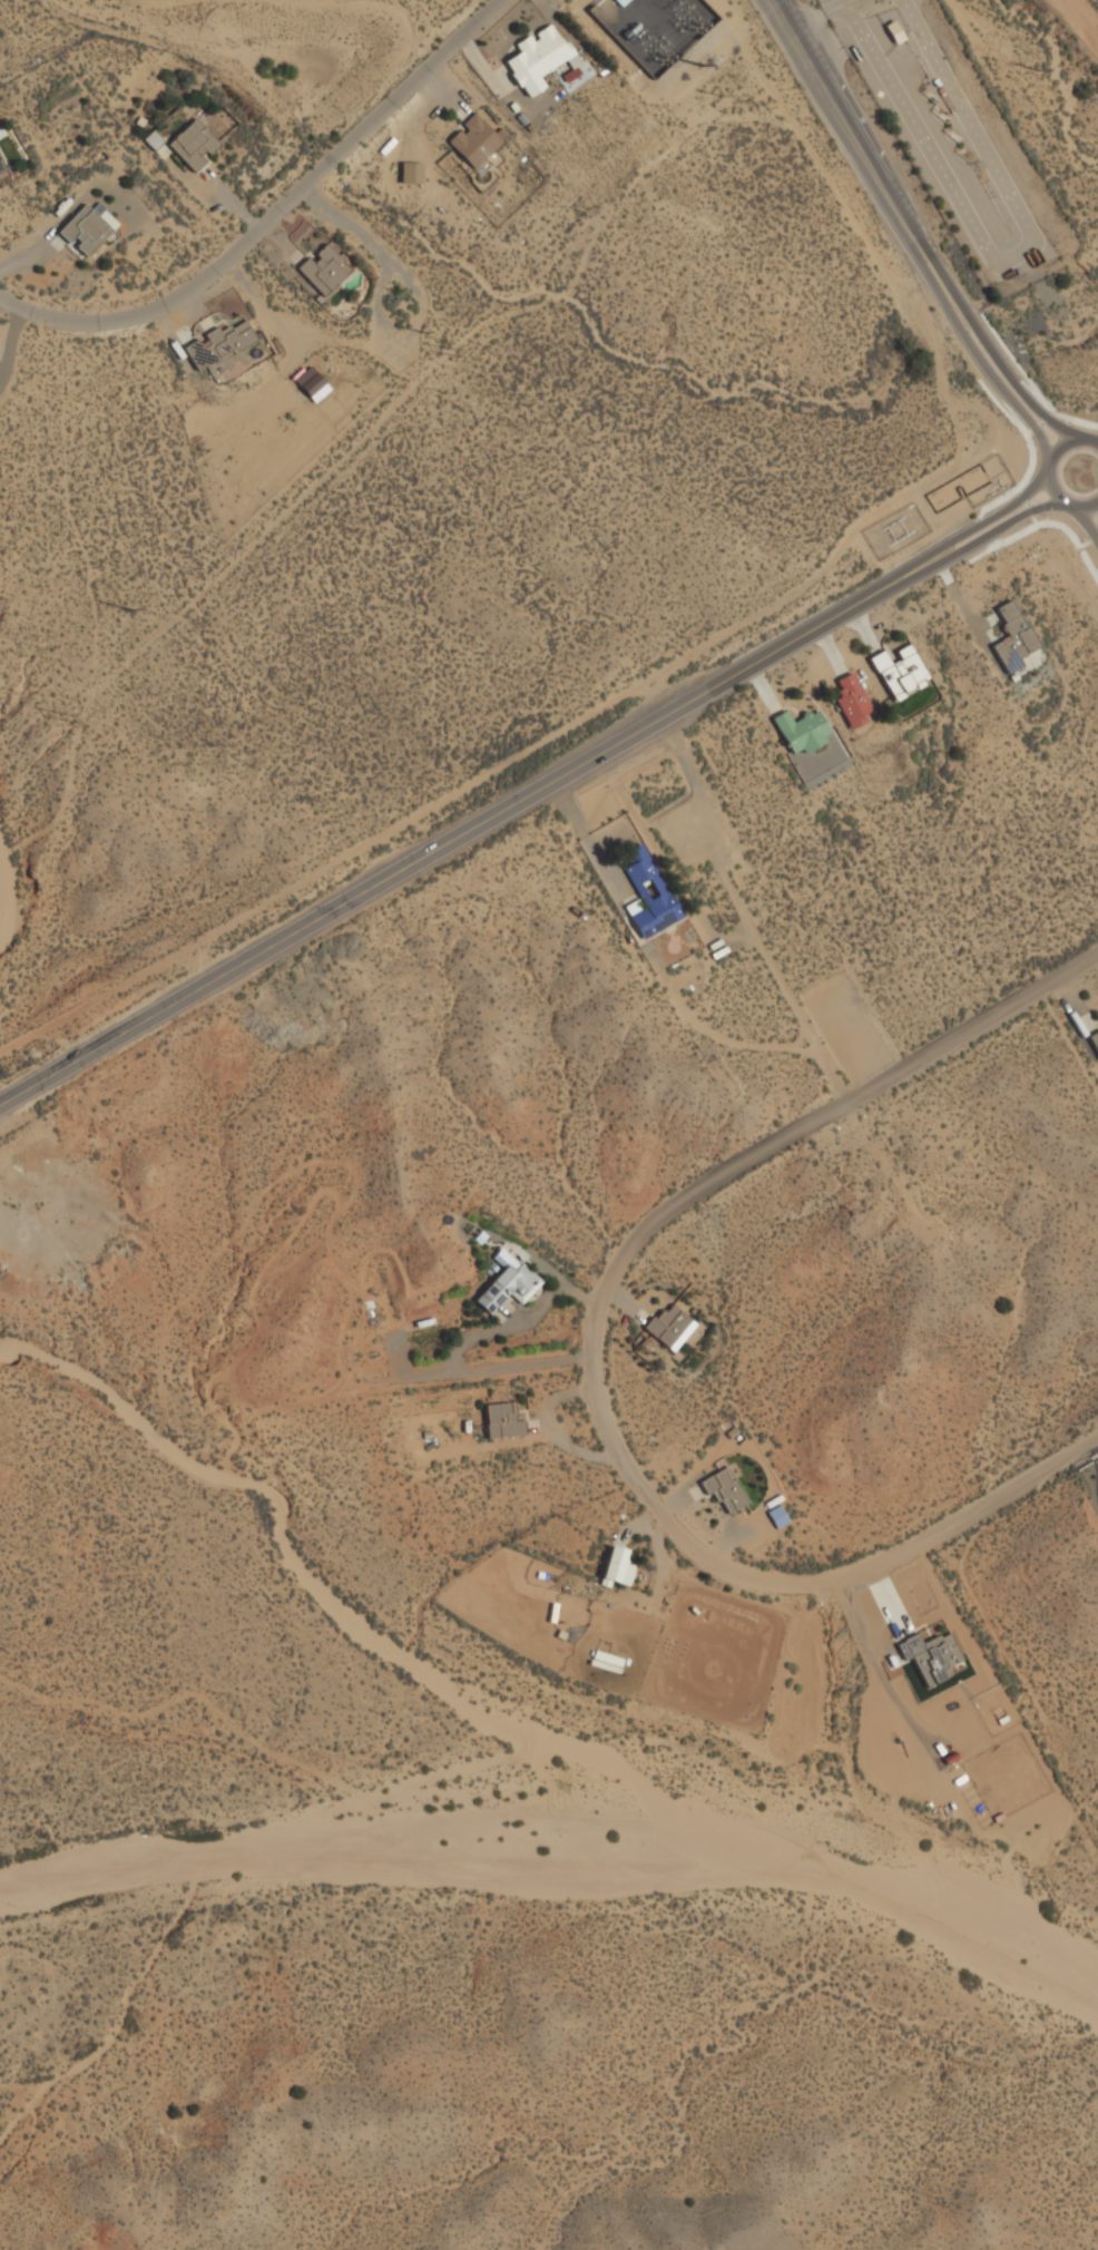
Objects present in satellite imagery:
landfill: (1085, 13)
power substation: (653, 28)
building: (536, 58)
power tower: (699, 66)
power tower: (737, 79)
road: (822, 81)
building: (473, 141)
building: (193, 145)
building: (2, 173)
building: (411, 173)
road: (273, 214)
building: (85, 231)
building: (324, 270)
road: (959, 309)
road: (949, 315)
power tower: (419, 333)
building: (218, 345)
power tower: (451, 355)
building: (312, 384)
road: (1038, 422)
road: (1097, 440)
road: (1041, 472)
park: (1081, 472)
road: (1023, 502)
road: (1086, 522)
road: (1047, 525)
road: (962, 527)
road: (968, 539)
road: (1090, 541)
power tower: (130, 613)
building: (1012, 638)
building: (900, 672)
building: (852, 702)
power tower: (67, 717)
building: (801, 731)
road: (440, 841)
road: (600, 865)
building: (647, 894)
road: (741, 909)
road: (715, 1035)
building: (1095, 1040)
building: (507, 1282)
building: (667, 1324)
road: (599, 1352)
building: (502, 1420)
building: (724, 1490)
building: (616, 1567)

